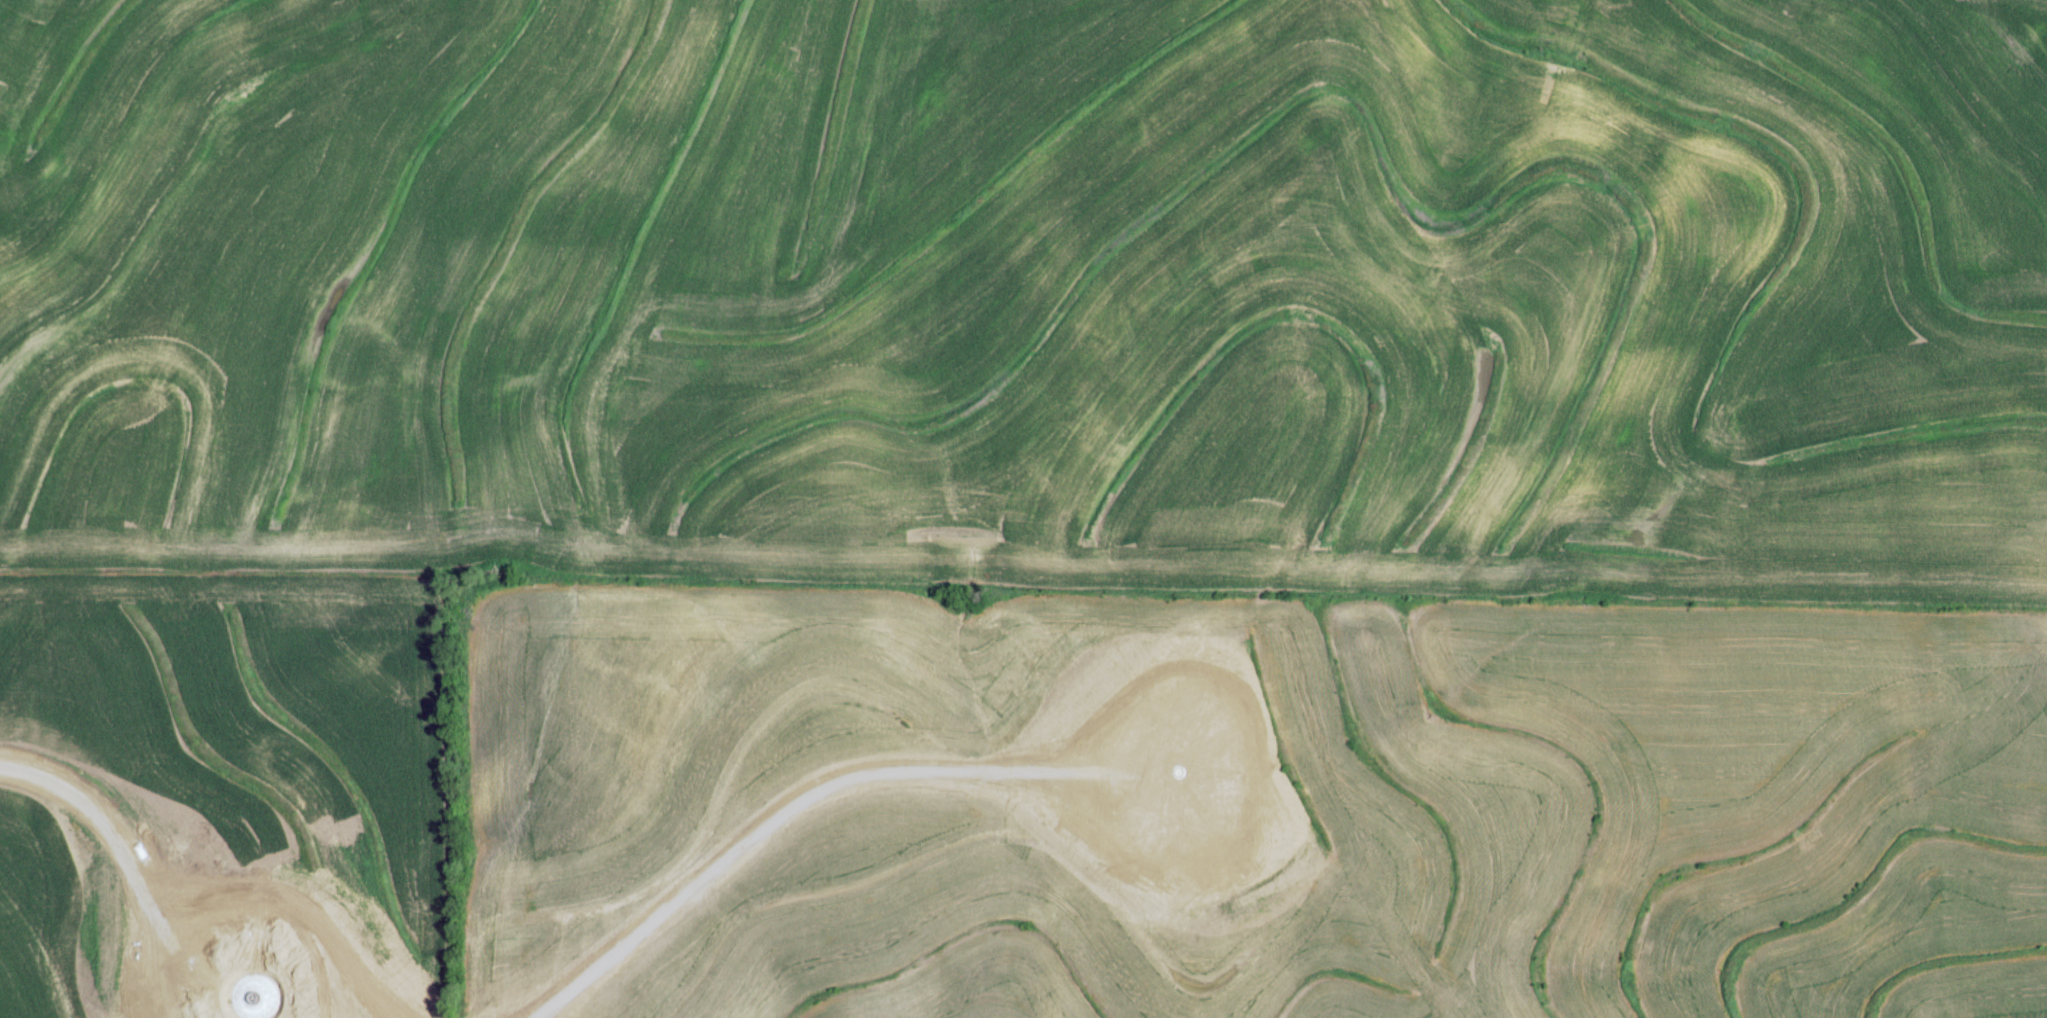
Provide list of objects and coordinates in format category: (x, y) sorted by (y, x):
wind turbine: (1175, 767)
wind turbine: (244, 996)

